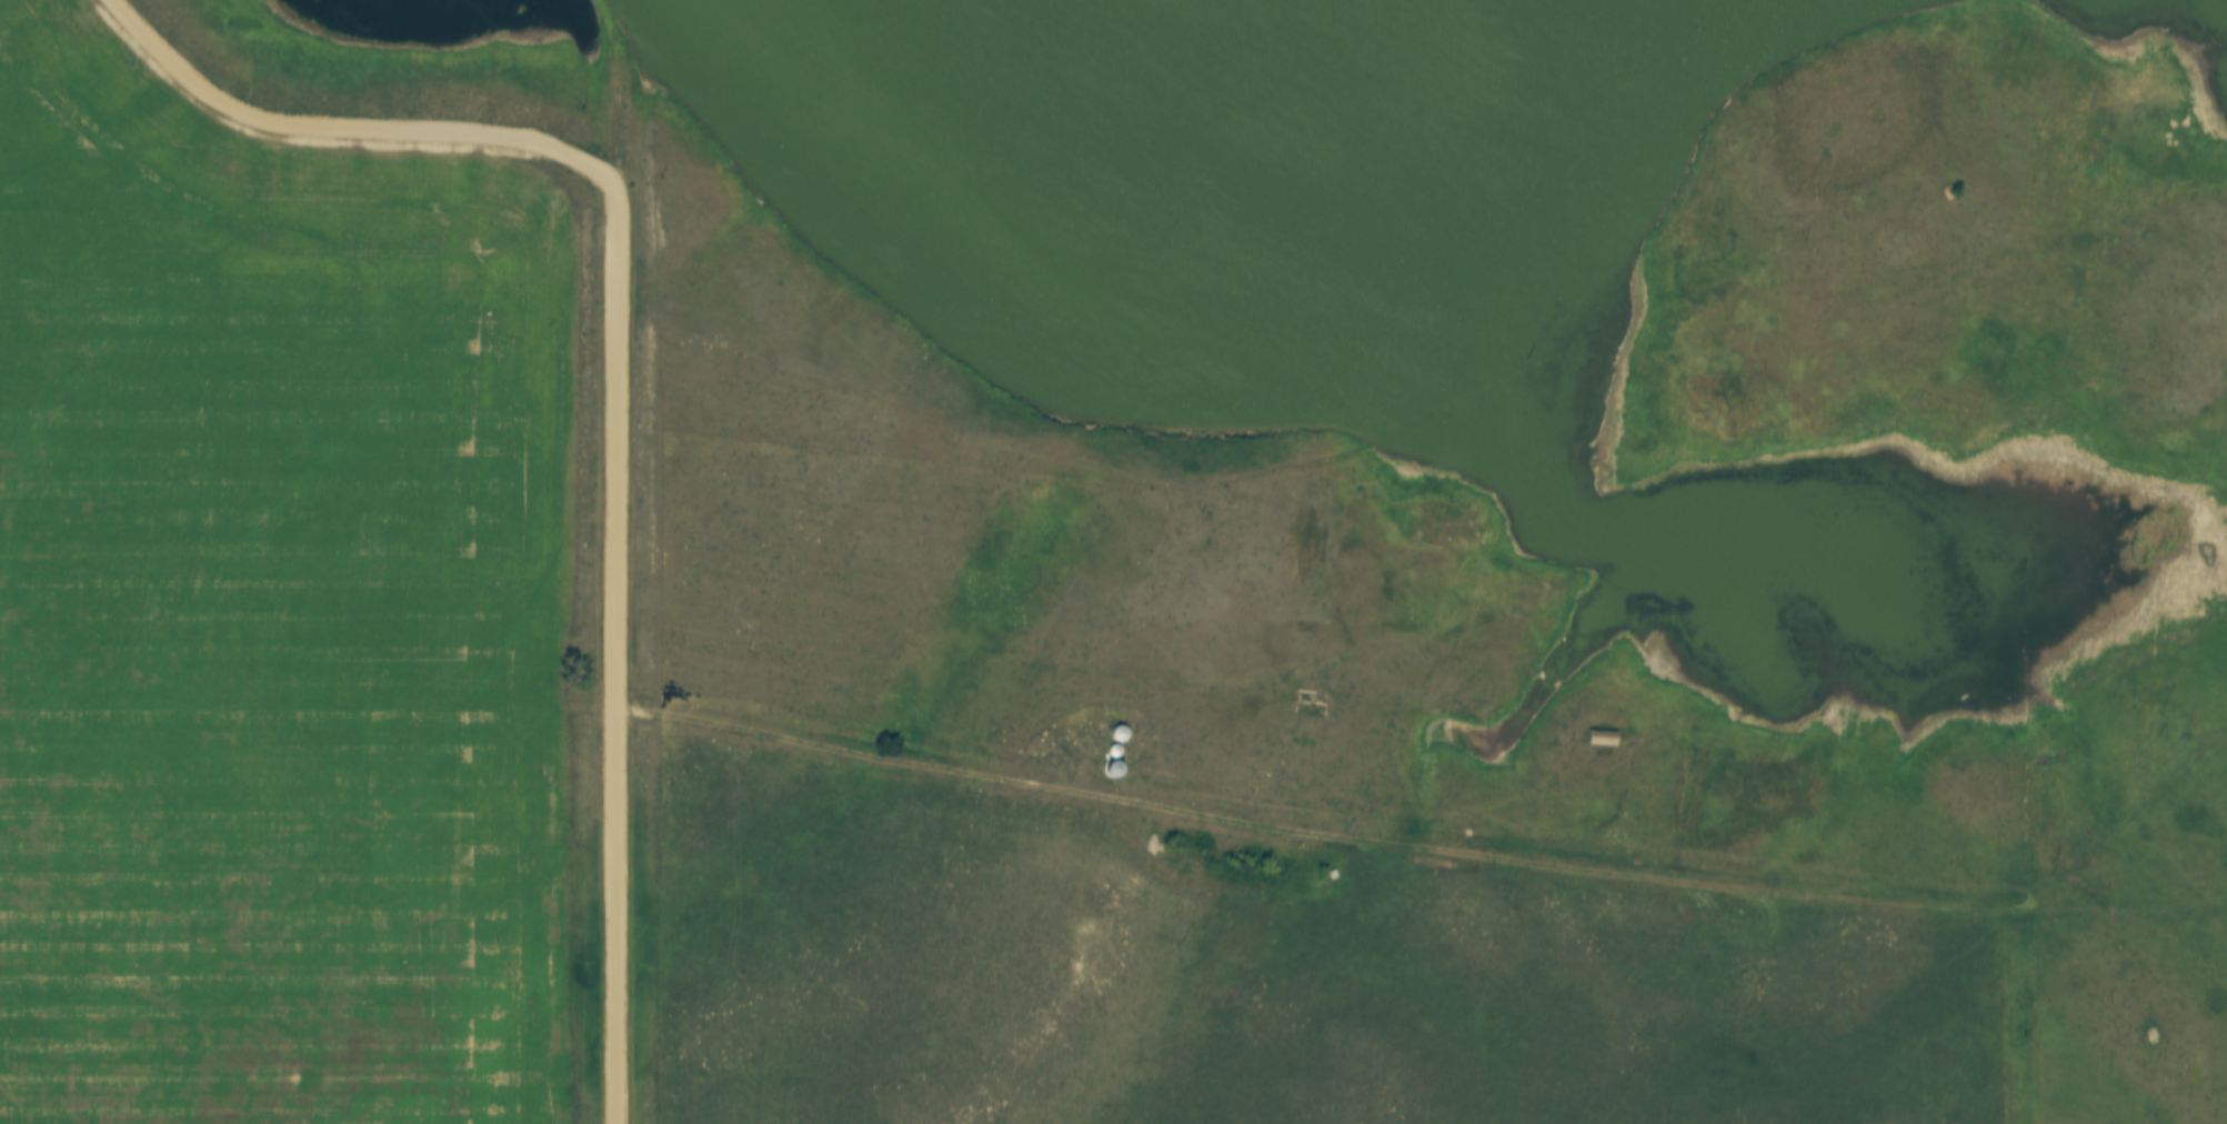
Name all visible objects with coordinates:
road: (320, 127)
road: (615, 638)
building: (1120, 724)
silo: (1120, 724)
building: (1602, 729)
building: (1602, 740)
building: (1115, 741)
silo: (1115, 741)
building: (1116, 760)
silo: (1116, 760)
road: (1492, 860)

